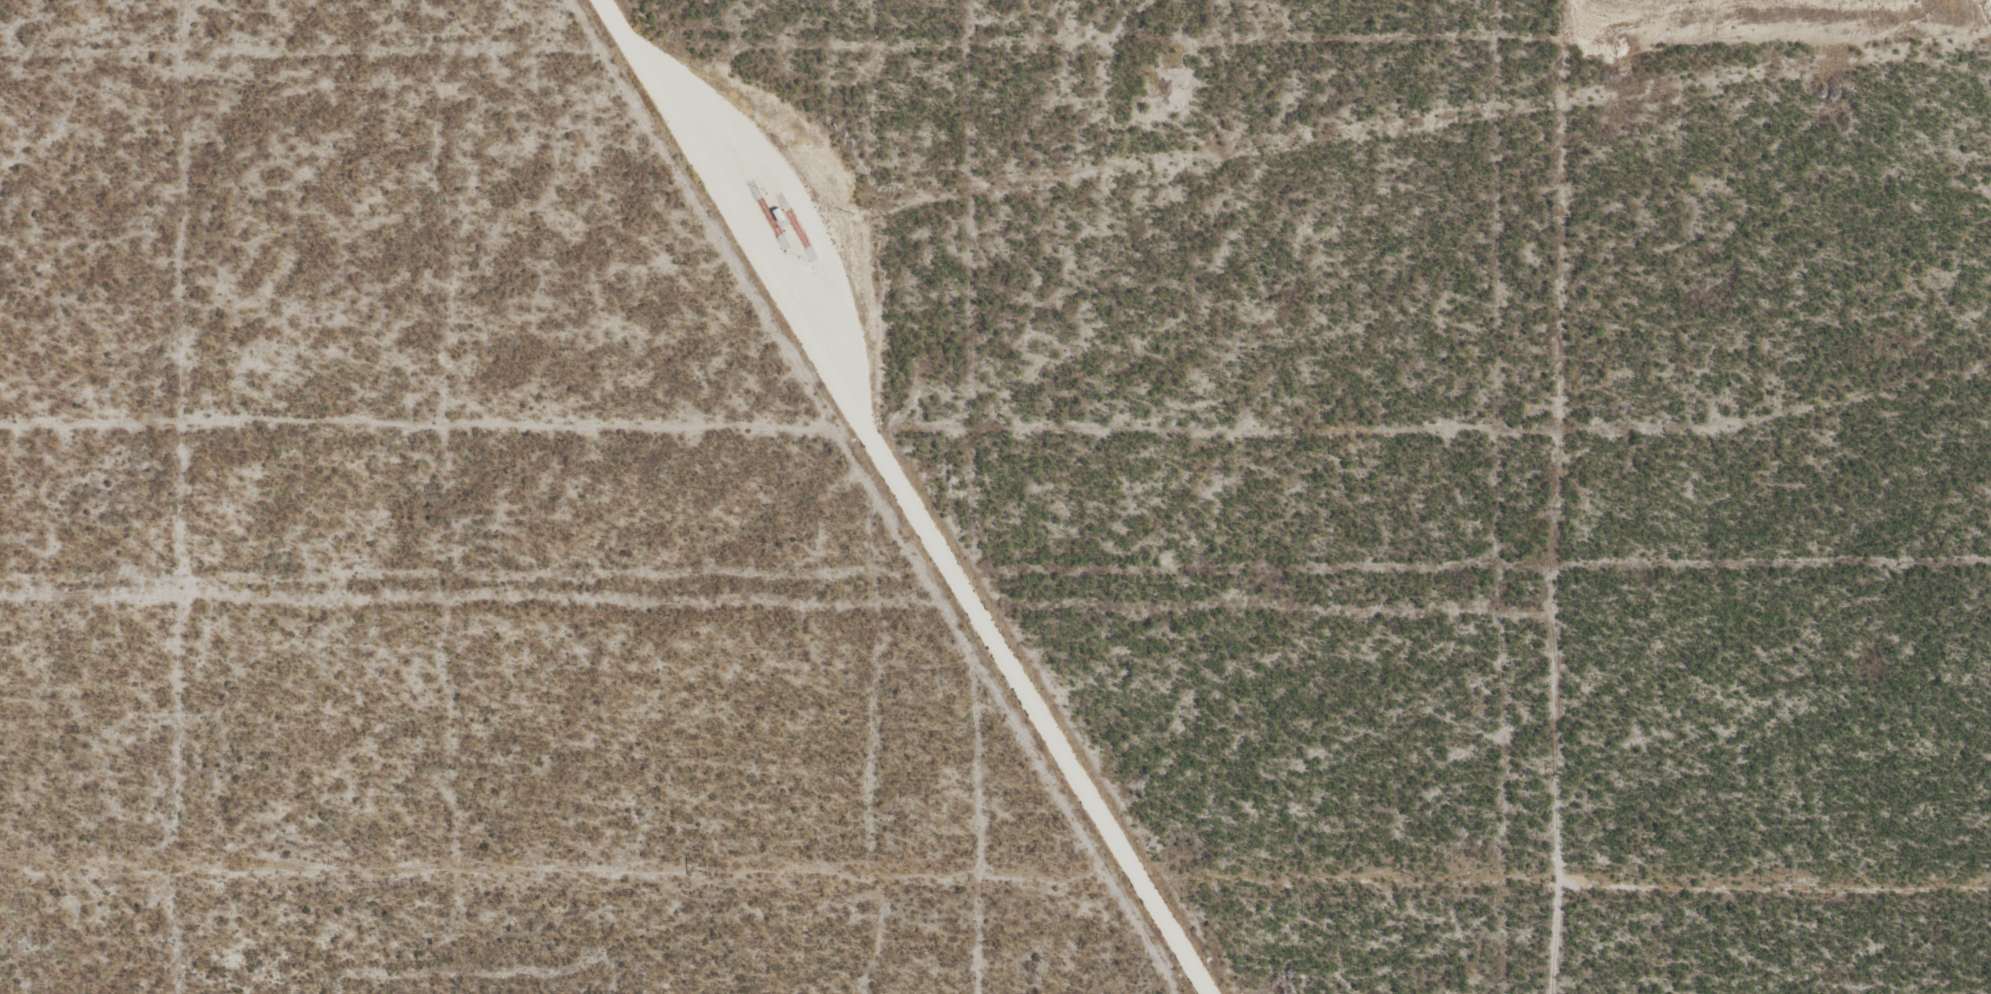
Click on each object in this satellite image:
road: (904, 495)
power tower: (354, 868)
power tower: (711, 871)
power tower: (1069, 874)
power tower: (1426, 876)
power tower: (1786, 879)

